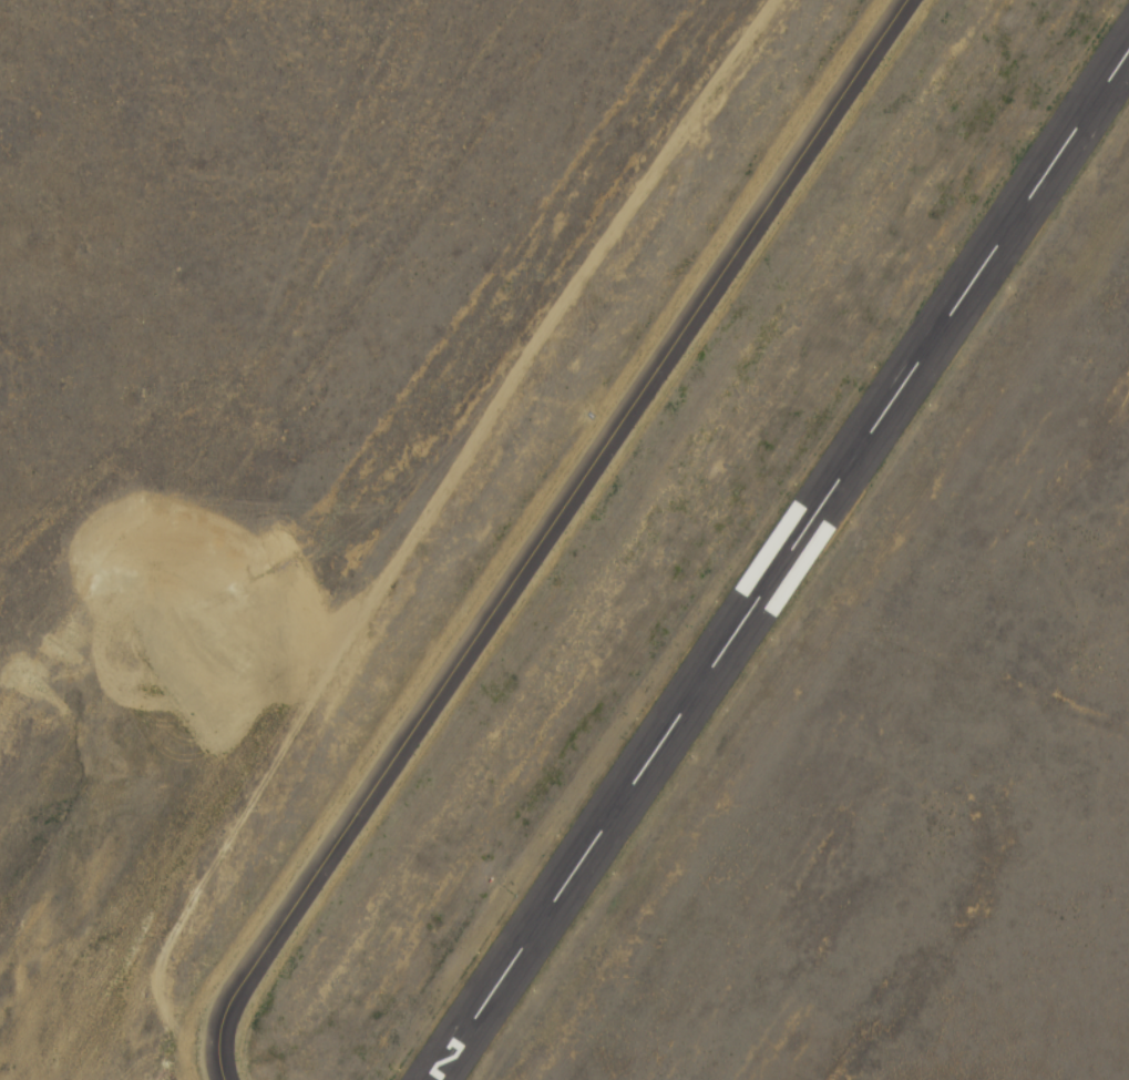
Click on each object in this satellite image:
airport taxiway: (542, 534)
airport: (564, 540)
airport runway: (779, 563)

